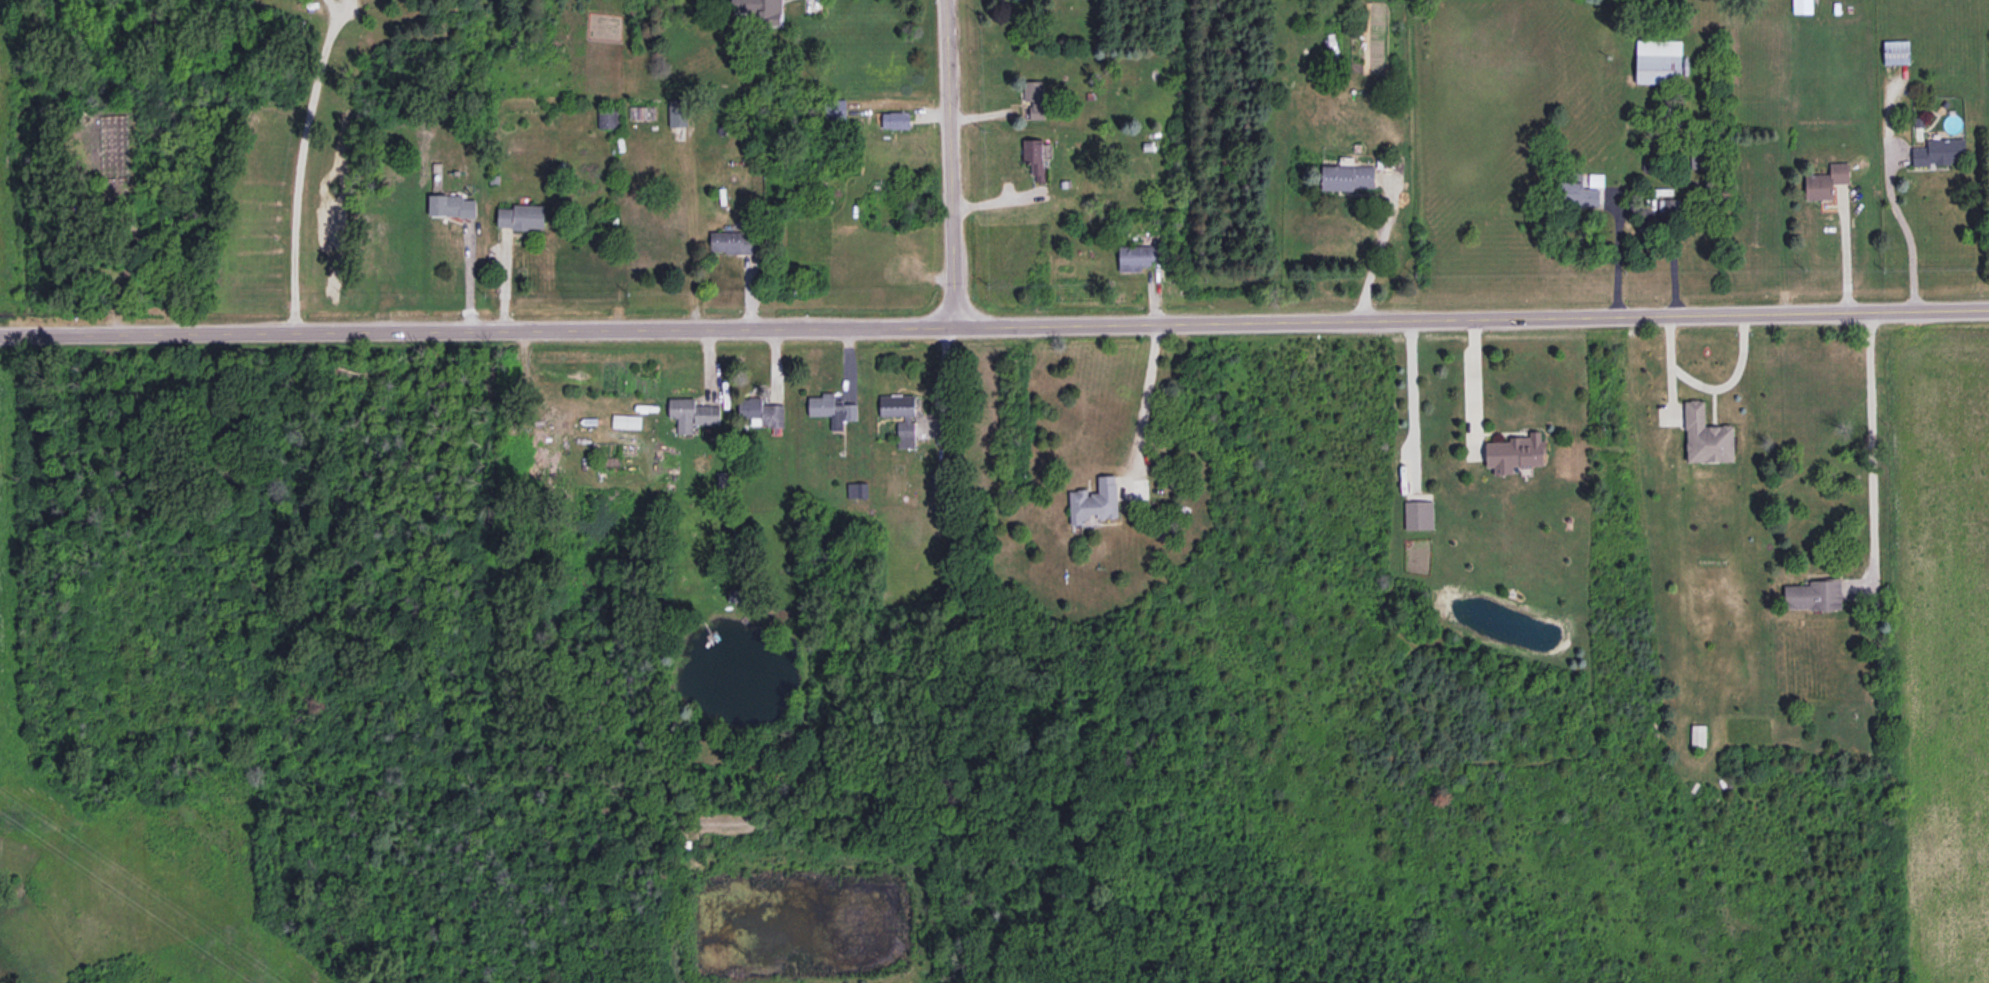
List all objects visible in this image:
building: (761, 10)
building: (1658, 60)
building: (1034, 97)
building: (677, 112)
building: (608, 118)
building: (1034, 157)
road: (952, 162)
road: (297, 166)
building: (1346, 177)
building: (1826, 181)
building: (451, 205)
building: (1668, 206)
road: (1638, 209)
building: (521, 216)
road: (1907, 229)
building: (733, 242)
road: (1378, 247)
road: (1843, 253)
building: (1138, 256)
road: (994, 324)
road: (1669, 366)
road: (1474, 374)
road: (1730, 380)
road: (1410, 400)
road: (1145, 403)
building: (896, 405)
building: (832, 409)
building: (761, 410)
building: (692, 413)
building: (1695, 417)
building: (626, 421)
road: (1870, 449)
building: (1516, 452)
building: (1094, 501)
building: (1814, 594)

